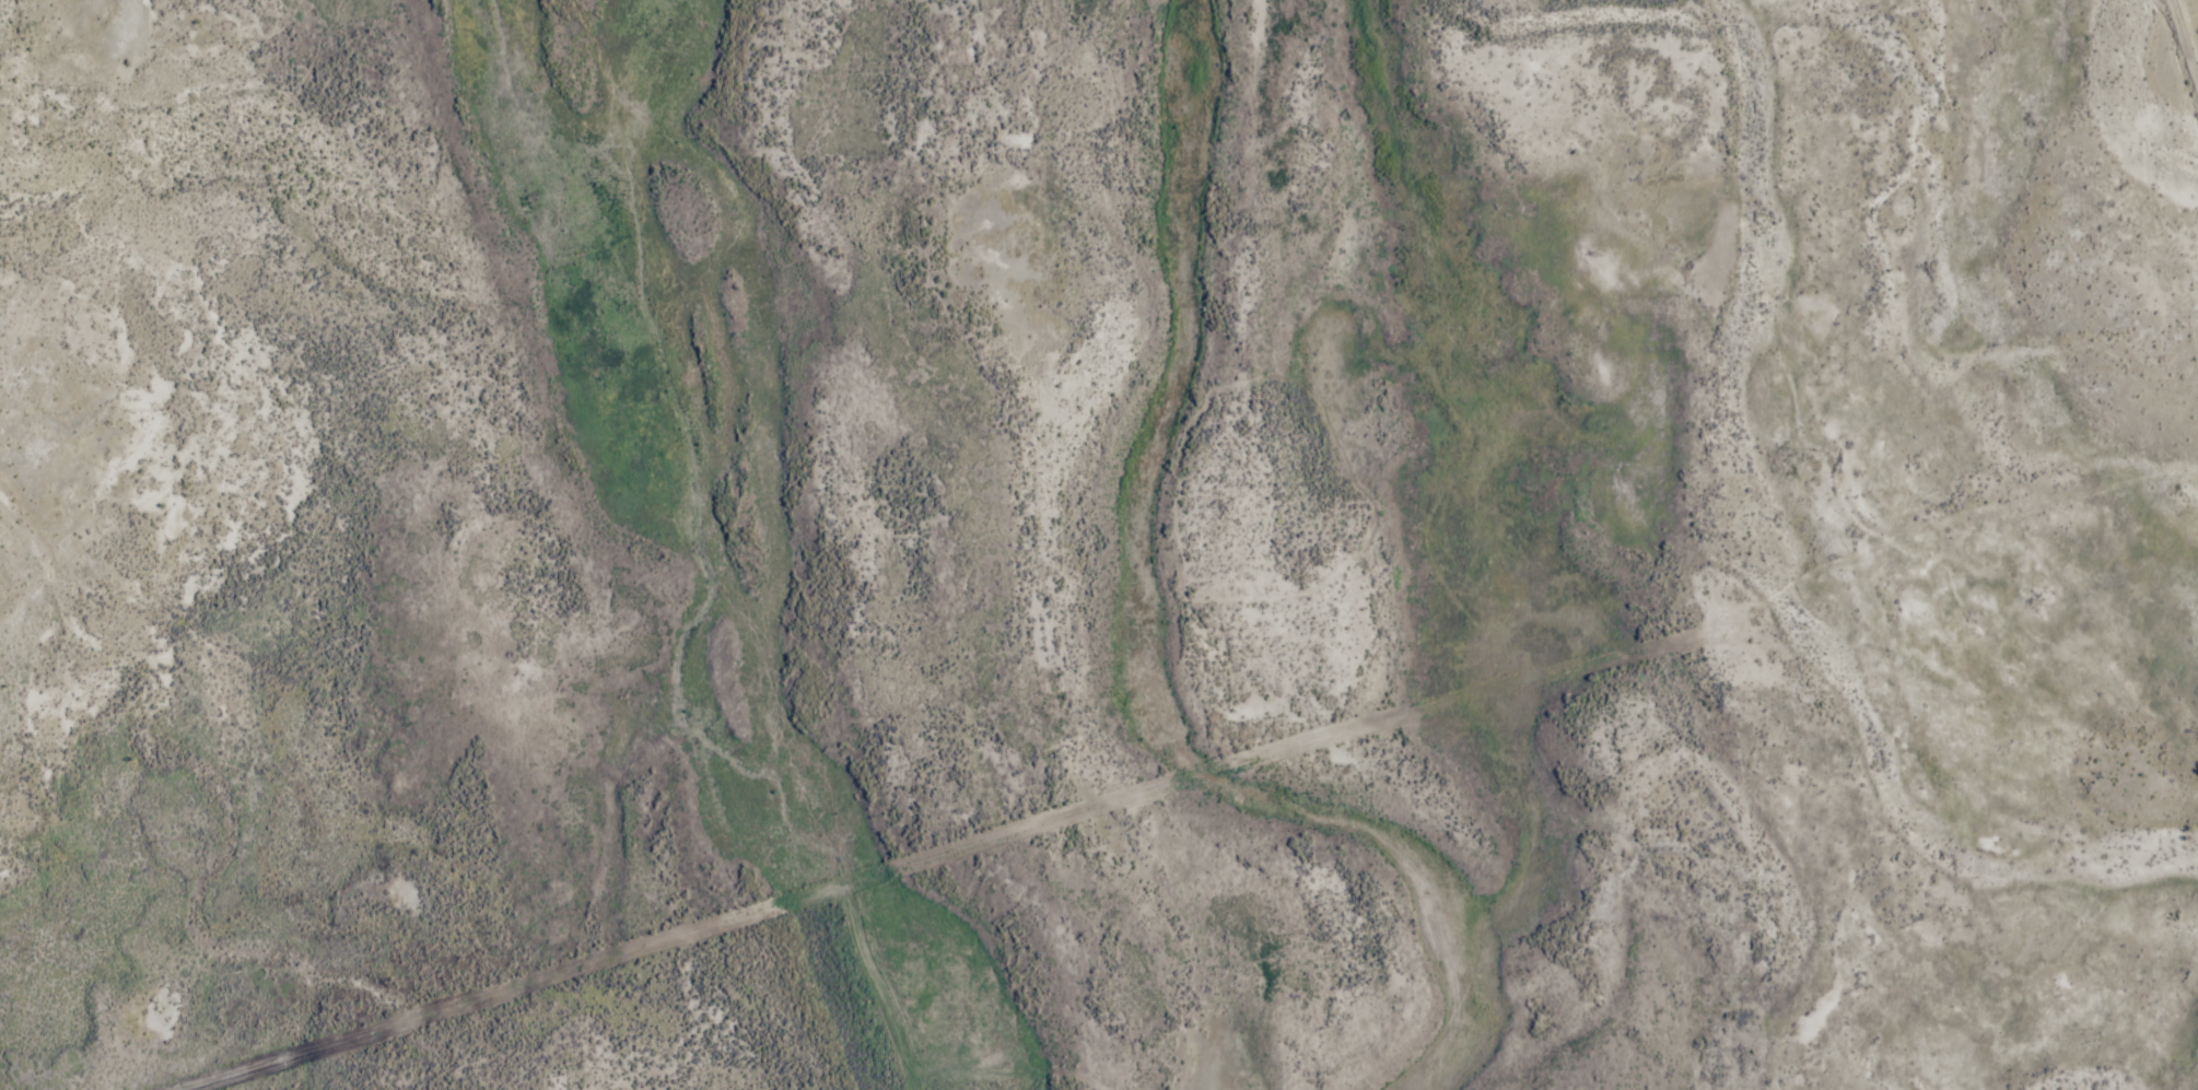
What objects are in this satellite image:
road: (2176, 65)

